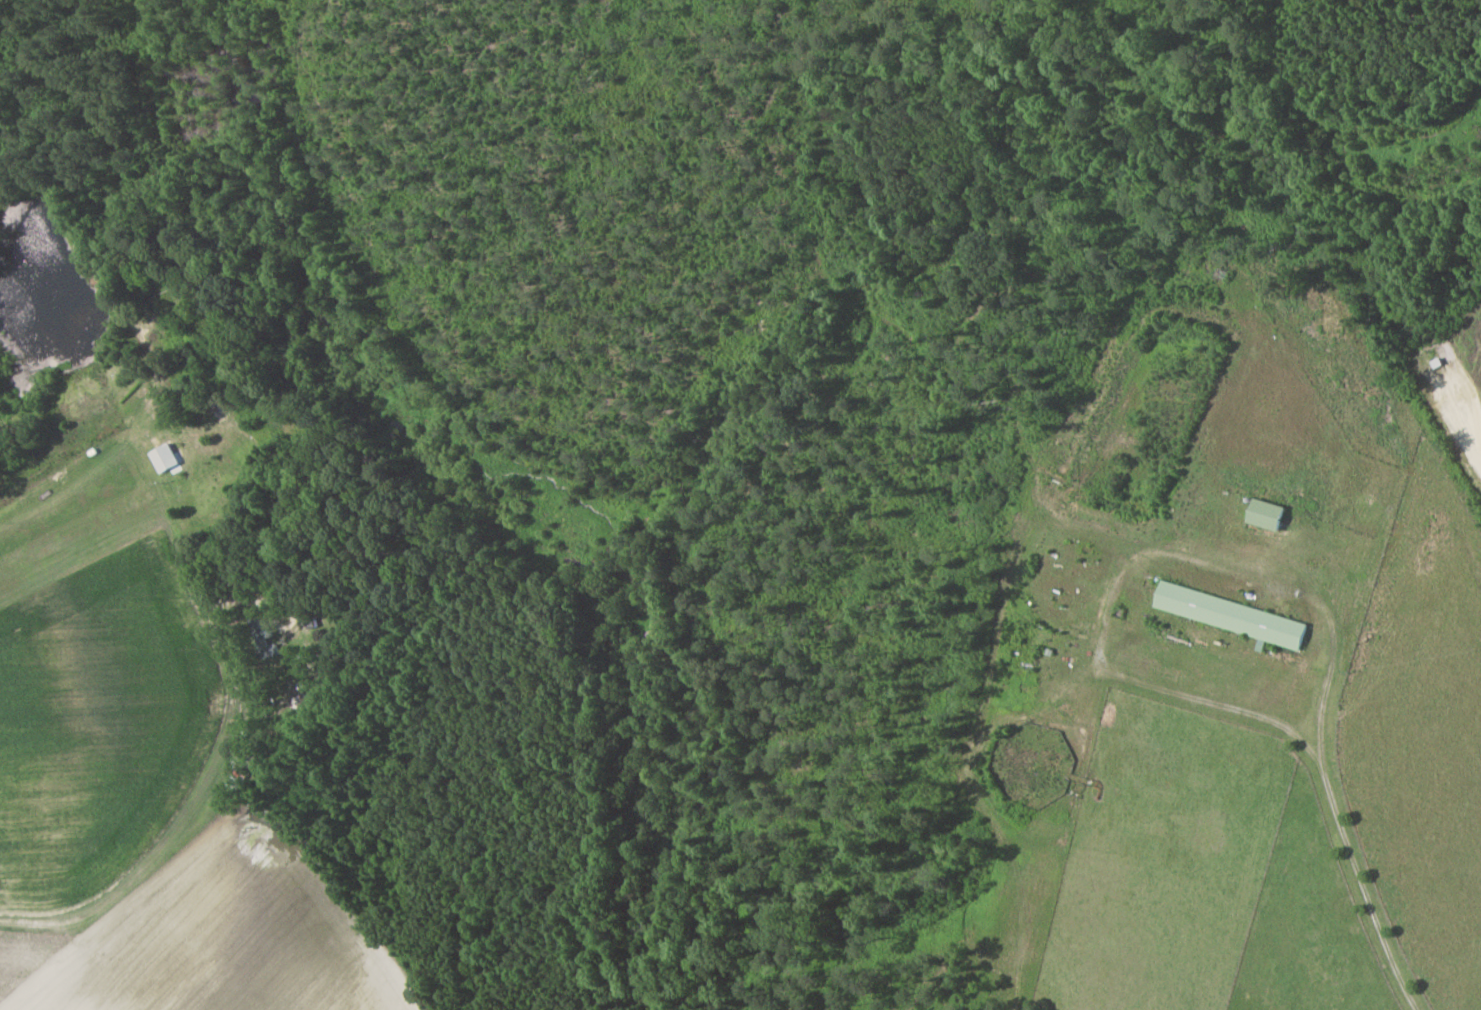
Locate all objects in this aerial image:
building: (165, 458)
building: (1268, 515)
building: (1232, 615)
building: (265, 638)

